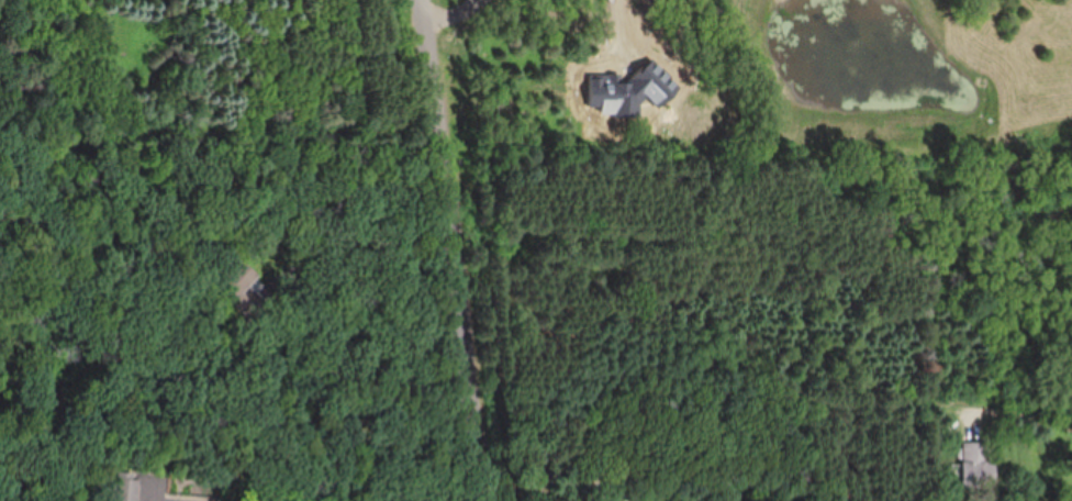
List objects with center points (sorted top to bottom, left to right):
road: (454, 14)
road: (624, 27)
road: (339, 199)
road: (451, 249)
building: (238, 282)
building: (980, 465)

